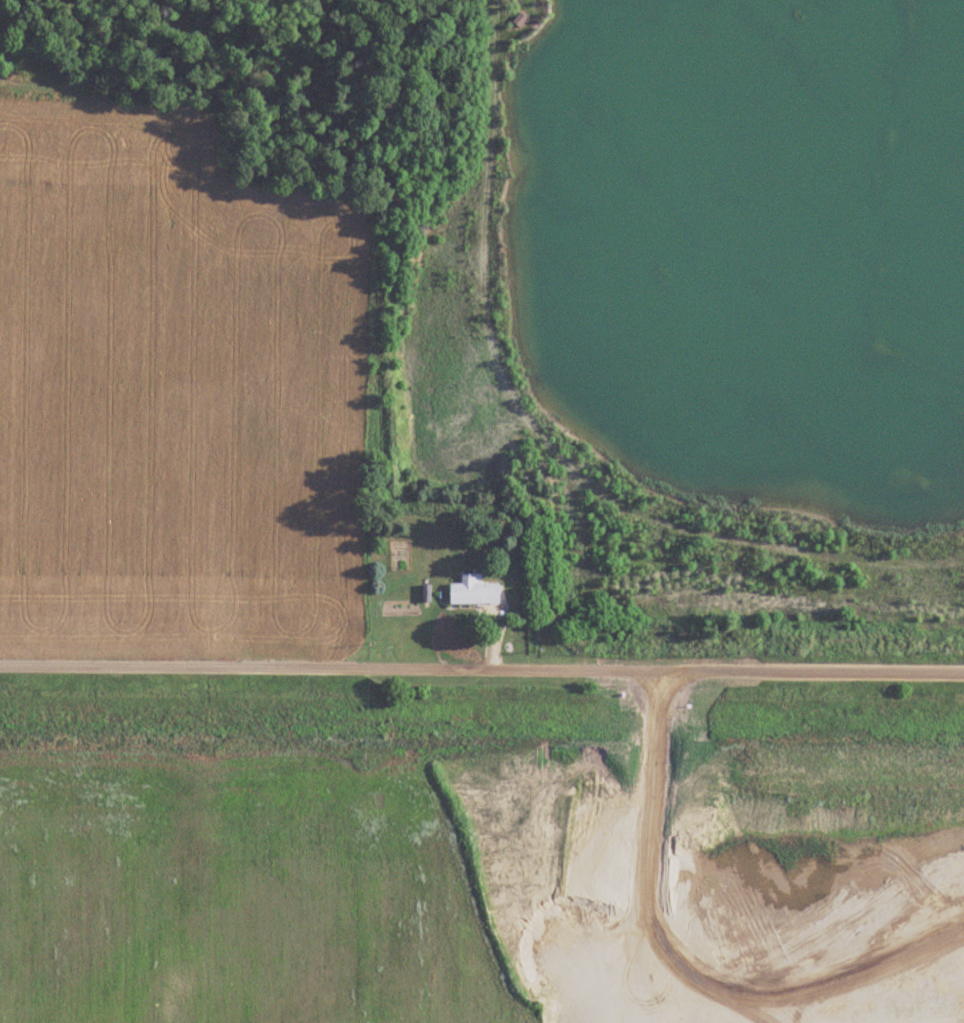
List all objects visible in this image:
building: (474, 591)
road: (481, 672)

